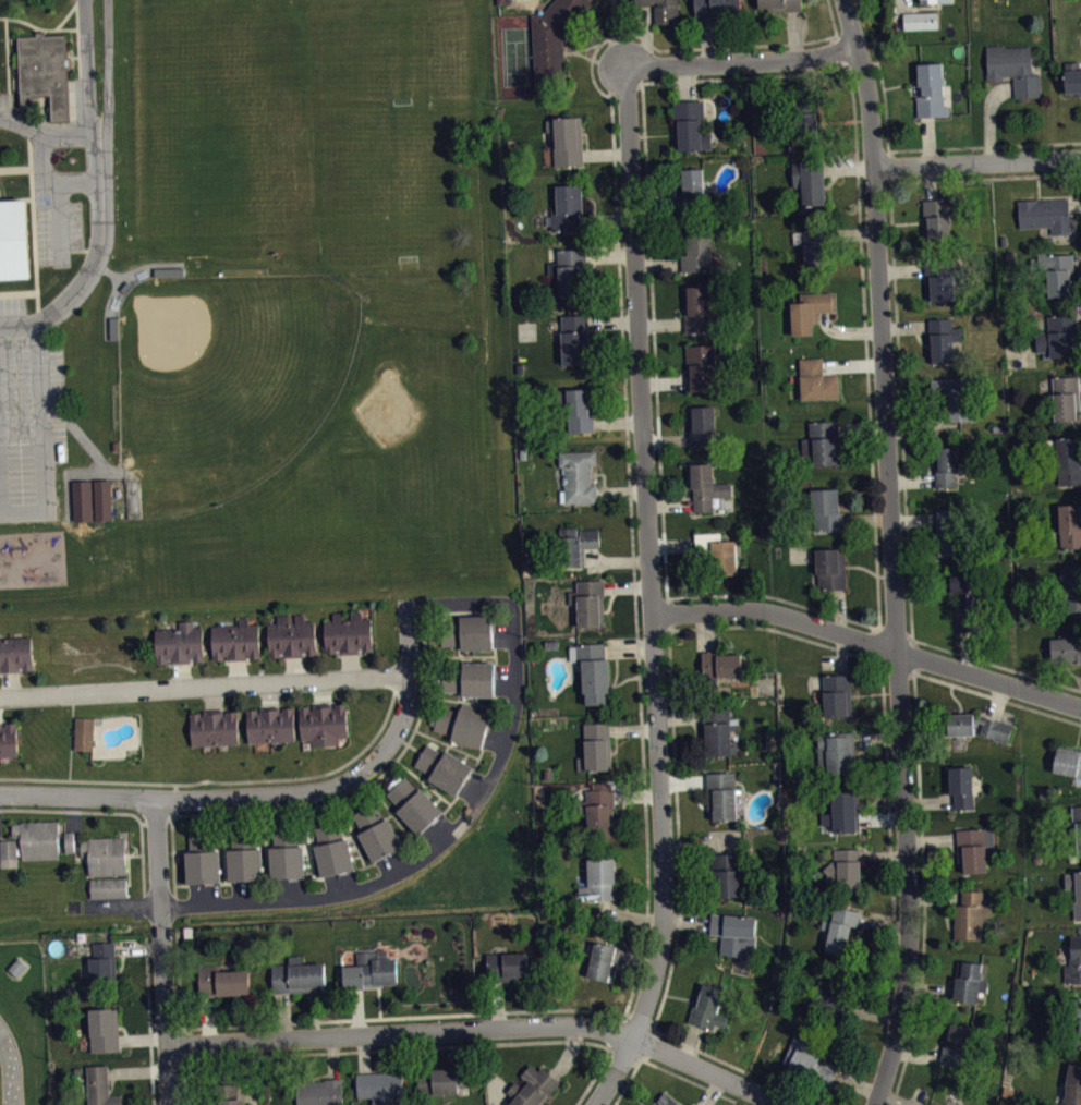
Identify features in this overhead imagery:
building: (642, 0)
building: (661, 0)
building: (934, 0)
building: (781, 3)
building: (716, 7)
building: (666, 11)
road: (833, 16)
building: (920, 20)
road: (76, 21)
road: (37, 27)
road: (793, 32)
road: (617, 33)
road: (705, 38)
building: (554, 39)
road: (647, 39)
road: (834, 50)
road: (7, 53)
park: (515, 54)
road: (741, 60)
road: (862, 65)
building: (1013, 66)
building: (44, 70)
road: (107, 70)
road: (86, 71)
road: (810, 74)
building: (1072, 75)
road: (685, 80)
road: (622, 86)
building: (932, 89)
road: (886, 105)
building: (805, 112)
road: (989, 117)
building: (690, 123)
park: (191, 126)
road: (48, 134)
building: (567, 138)
road: (927, 139)
road: (984, 145)
road: (606, 154)
flagpole: (72, 159)
road: (976, 161)
road: (892, 165)
road: (847, 166)
road: (21, 168)
street lamp: (116, 174)
road: (984, 177)
road: (72, 179)
building: (810, 179)
road: (930, 181)
building: (692, 187)
road: (51, 193)
road: (655, 201)
road: (1074, 204)
building: (567, 206)
building: (1045, 212)
building: (937, 217)
road: (606, 218)
road: (33, 226)
parking lot: (58, 228)
road: (851, 232)
building: (14, 240)
road: (99, 243)
building: (813, 243)
building: (695, 248)
road: (609, 253)
street lamp: (111, 255)
road: (657, 263)
road: (1077, 263)
building: (568, 268)
road: (901, 269)
building: (1056, 274)
building: (943, 278)
road: (17, 292)
building: (696, 307)
building: (806, 309)
road: (612, 321)
road: (660, 323)
road: (1079, 324)
road: (19, 325)
road: (904, 325)
road: (847, 331)
building: (1058, 336)
building: (575, 337)
building: (943, 338)
road: (852, 364)
building: (700, 367)
street lamp: (15, 369)
park: (226, 379)
building: (816, 379)
road: (664, 381)
road: (1079, 382)
building: (954, 394)
building: (1065, 398)
road: (625, 403)
building: (578, 408)
road: (901, 409)
parking lot: (28, 415)
road: (617, 421)
building: (701, 425)
road: (862, 427)
road: (922, 427)
road: (41, 438)
road: (666, 438)
building: (823, 440)
building: (1069, 460)
building: (949, 463)
building: (578, 475)
road: (911, 479)
street lamp: (58, 483)
building: (706, 486)
road: (621, 490)
building: (92, 499)
road: (669, 502)
building: (826, 508)
road: (914, 517)
road: (866, 519)
building: (1069, 525)
building: (950, 529)
road: (671, 544)
building: (576, 546)
building: (717, 551)
road: (891, 552)
road: (615, 560)
building: (830, 567)
road: (627, 585)
building: (1071, 588)
road: (651, 593)
building: (965, 598)
building: (588, 602)
road: (878, 608)
road: (838, 610)
road: (671, 612)
road: (503, 623)
road: (707, 630)
road: (776, 630)
road: (433, 631)
building: (470, 631)
building: (349, 632)
building: (292, 635)
road: (503, 639)
building: (236, 640)
road: (869, 641)
building: (179, 643)
road: (629, 647)
building: (1066, 649)
road: (967, 651)
building: (15, 653)
road: (840, 653)
road: (460, 654)
road: (515, 657)
road: (350, 664)
building: (719, 664)
road: (996, 664)
road: (506, 670)
building: (594, 671)
road: (181, 673)
building: (471, 678)
road: (205, 683)
road: (505, 687)
road: (321, 690)
building: (837, 694)
road: (212, 696)
road: (997, 696)
road: (460, 700)
road: (997, 700)
road: (679, 716)
road: (73, 720)
building: (324, 722)
building: (271, 724)
building: (462, 724)
building: (215, 727)
road: (499, 727)
building: (996, 728)
road: (633, 729)
building: (718, 729)
building: (84, 731)
building: (9, 738)
road: (877, 739)
road: (70, 740)
road: (447, 742)
road: (495, 742)
building: (595, 746)
building: (837, 752)
building: (1068, 761)
road: (392, 762)
building: (445, 767)
road: (479, 777)
road: (228, 780)
road: (423, 780)
road: (683, 780)
building: (962, 786)
road: (472, 791)
road: (272, 793)
building: (721, 794)
road: (636, 796)
road: (175, 798)
road: (930, 801)
building: (413, 803)
building: (600, 809)
road: (113, 811)
road: (391, 811)
building: (841, 812)
road: (880, 817)
road: (677, 829)
building: (1076, 829)
building: (377, 831)
road: (352, 833)
road: (931, 838)
building: (31, 840)
building: (69, 840)
road: (701, 841)
road: (308, 842)
road: (265, 846)
road: (890, 846)
road: (223, 847)
building: (72, 848)
building: (973, 848)
building: (332, 849)
building: (287, 853)
road: (884, 853)
building: (105, 854)
building: (244, 855)
building: (202, 858)
road: (173, 859)
road: (158, 864)
building: (845, 867)
building: (728, 873)
building: (598, 879)
building: (109, 886)
building: (1074, 889)
road: (923, 890)
road: (936, 897)
road: (284, 899)
road: (629, 915)
building: (970, 915)
road: (687, 920)
road: (883, 923)
building: (839, 928)
building: (734, 933)
road: (138, 948)
road: (636, 957)
building: (603, 960)
building: (1073, 961)
building: (102, 962)
building: (507, 966)
building: (372, 970)
building: (297, 975)
building: (222, 980)
building: (968, 981)
road: (928, 988)
building: (830, 993)
road: (497, 1004)
building: (706, 1006)
road: (357, 1009)
road: (871, 1011)
road: (283, 1013)
road: (641, 1016)
road: (208, 1017)
road: (165, 1018)
road: (354, 1018)
road: (148, 1020)
road: (166, 1022)
road: (483, 1028)
building: (104, 1029)
road: (611, 1030)
building: (1079, 1033)
road: (143, 1039)
road: (185, 1042)
road: (690, 1042)
building: (955, 1044)
road: (652, 1045)
road: (373, 1049)
road: (425, 1049)
road: (701, 1049)
building: (1080, 1049)
road: (364, 1052)
road: (568, 1052)
road: (916, 1055)
road: (332, 1056)
road: (622, 1057)
building: (809, 1060)
road: (223, 1061)
track: (9, 1069)
road: (137, 1070)
road: (593, 1077)
road: (687, 1079)
building: (441, 1080)
road: (628, 1081)
road: (855, 1082)
building: (1072, 1084)
building: (379, 1085)
building: (99, 1086)
building: (533, 1086)
road: (712, 1091)
building: (320, 1092)
building: (227, 1094)
road: (894, 1098)
building: (667, 1100)
building: (691, 1104)
building: (931, 1104)

